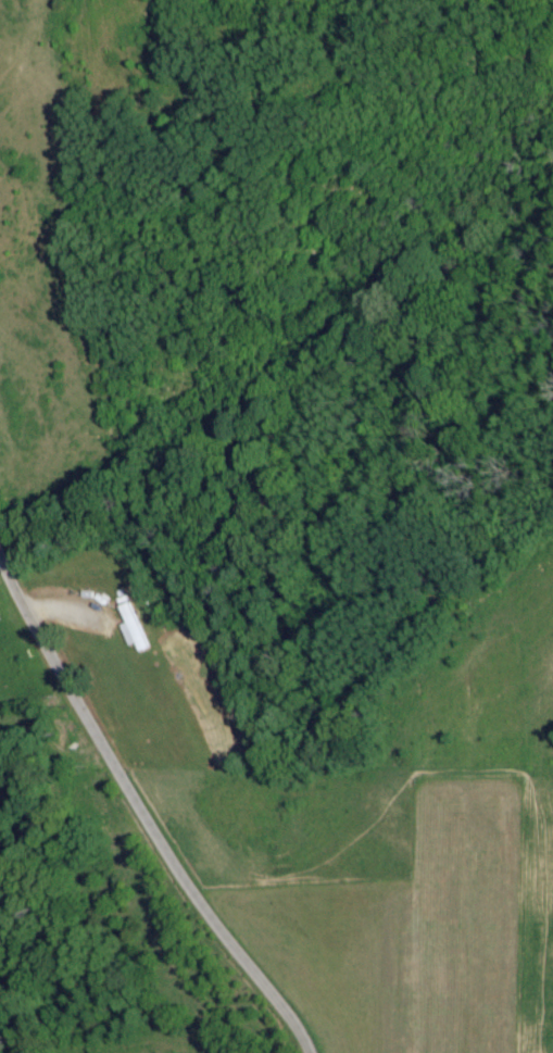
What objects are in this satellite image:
building: (133, 628)
road: (142, 811)

